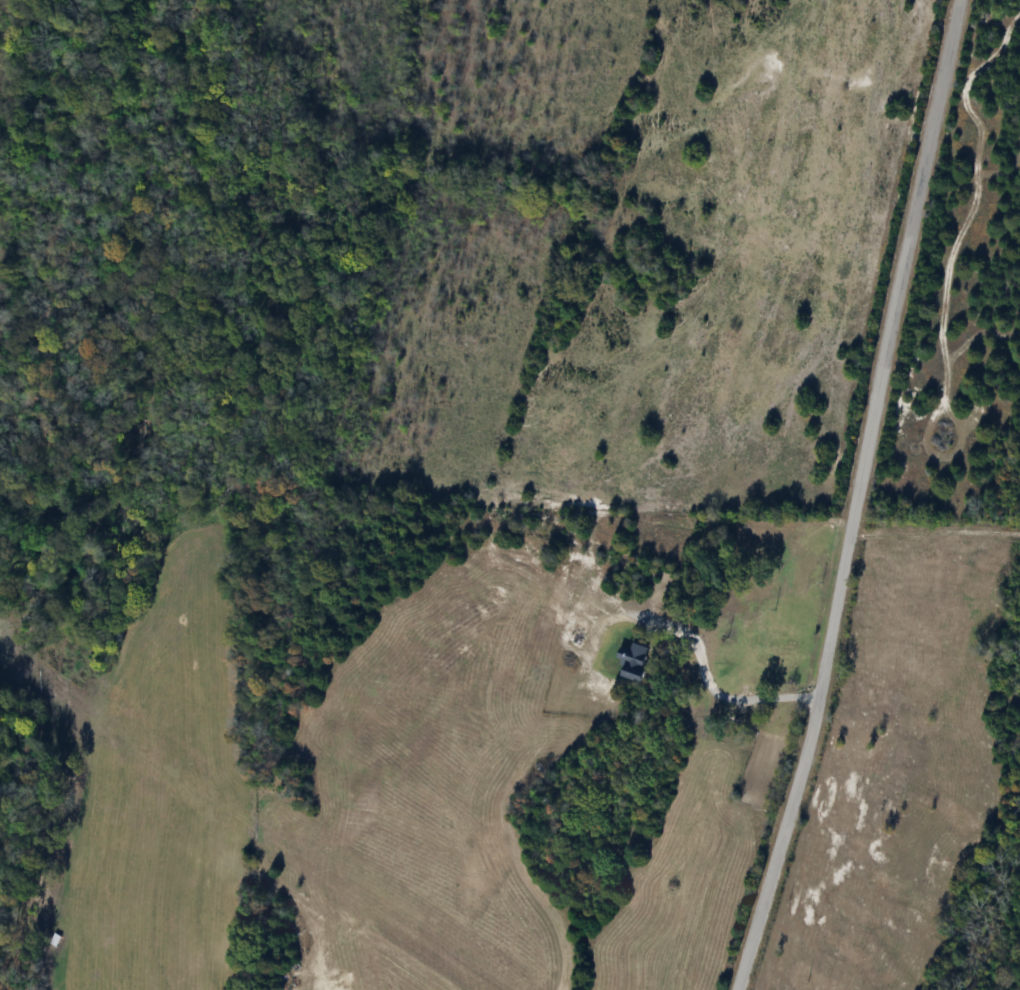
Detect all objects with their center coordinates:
road: (856, 497)
road: (724, 692)
building: (746, 703)

